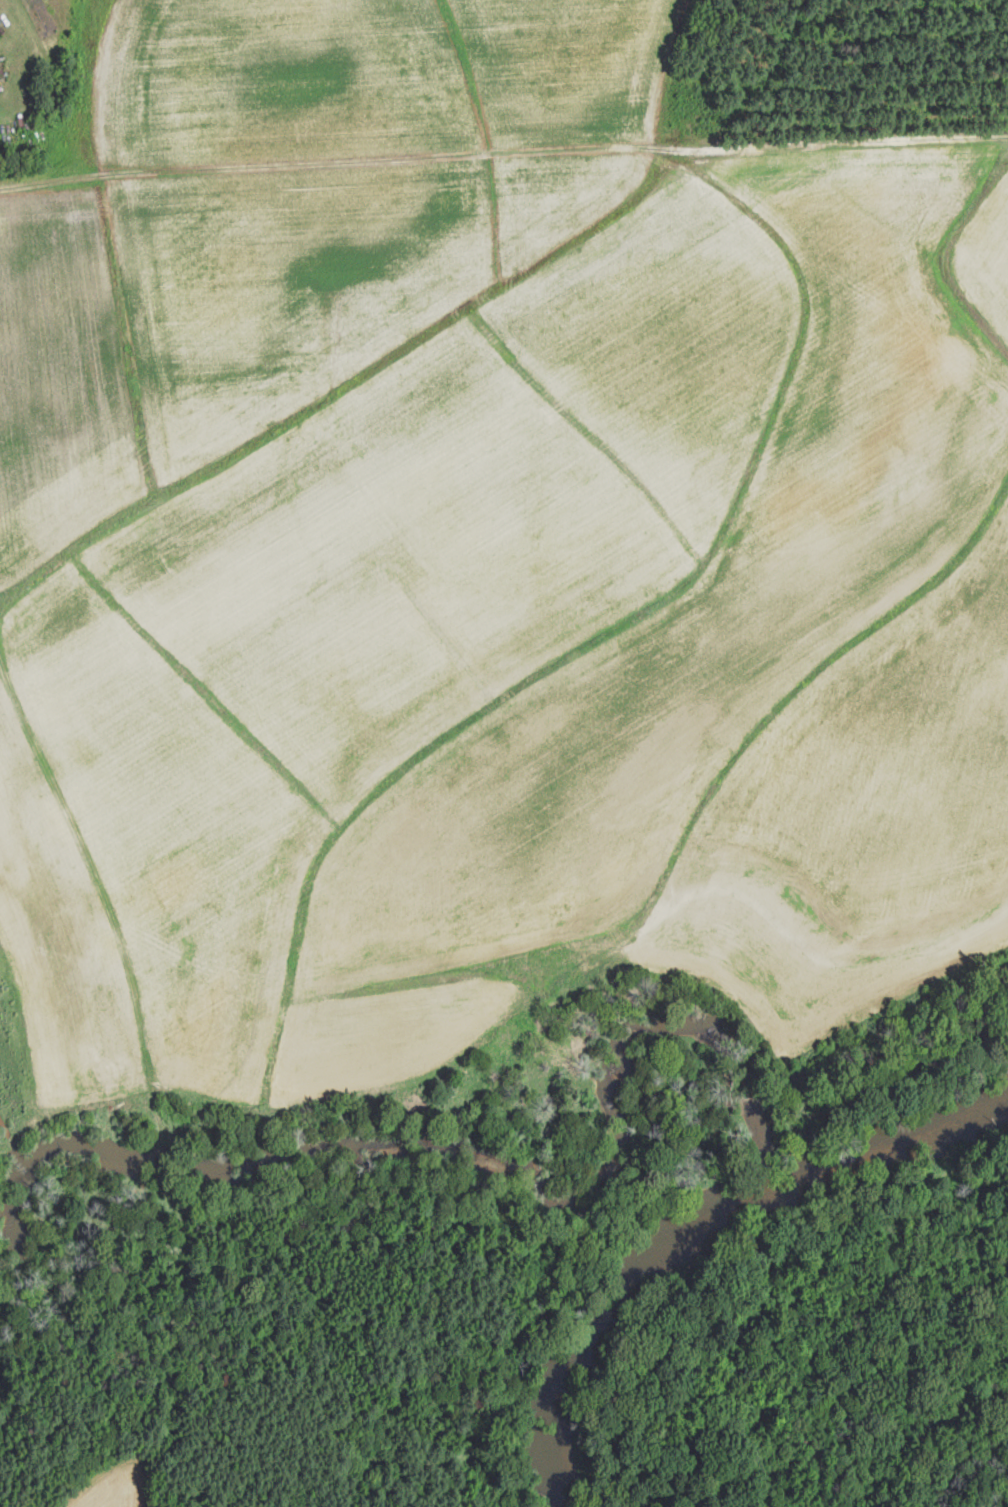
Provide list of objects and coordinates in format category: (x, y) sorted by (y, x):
river: (853, 1163)
river: (571, 1348)

